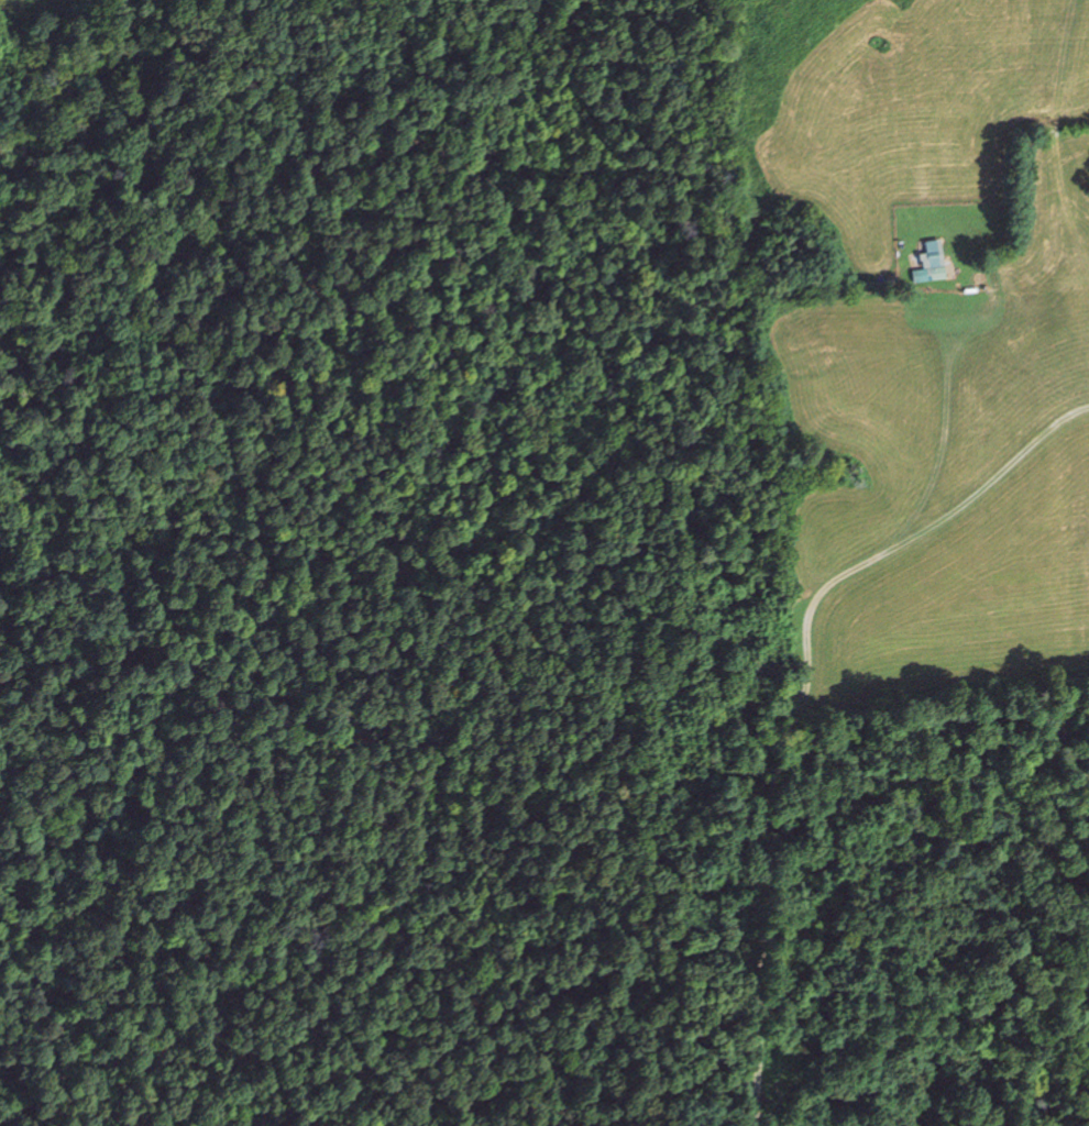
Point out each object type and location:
road: (778, 558)
road: (942, 704)

